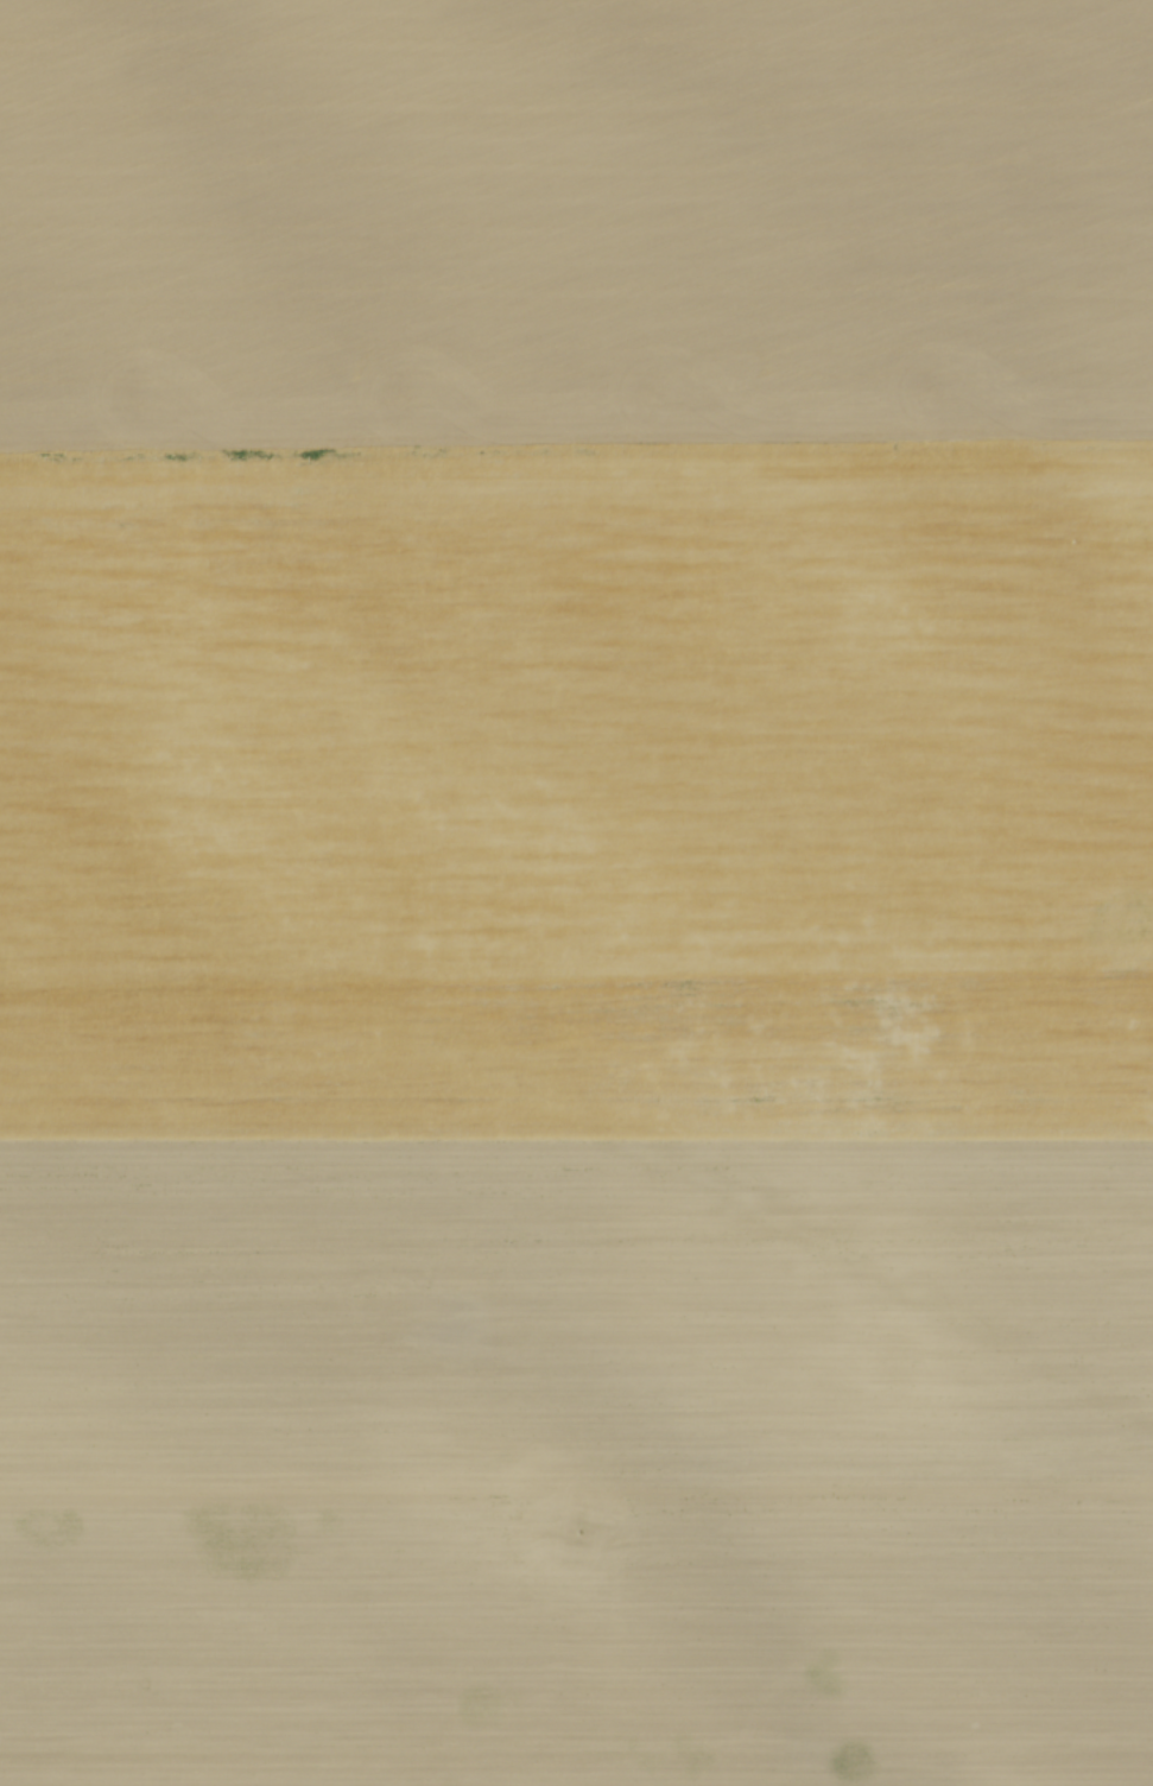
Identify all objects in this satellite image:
crop: (576, 893)

